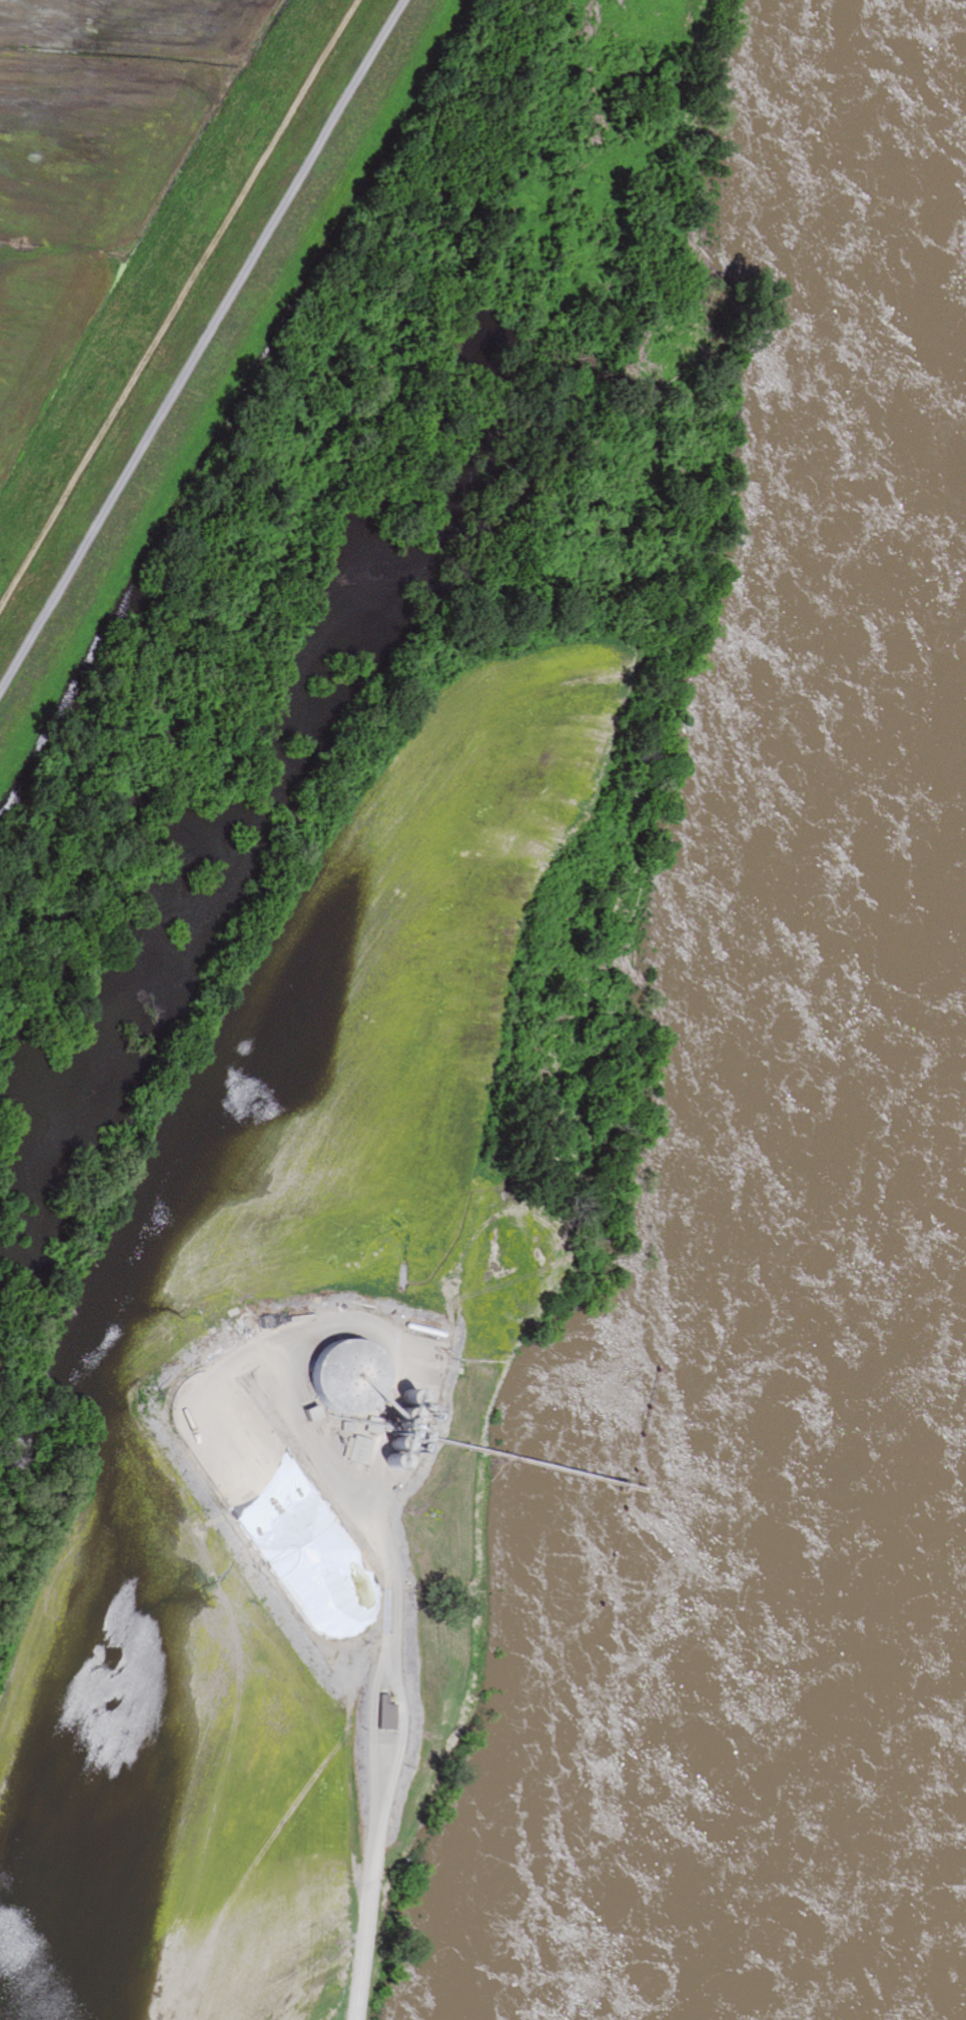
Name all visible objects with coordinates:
road: (180, 308)
road: (202, 346)
silo: (351, 1376)
road: (395, 1588)
building: (389, 1712)
road: (375, 1728)

